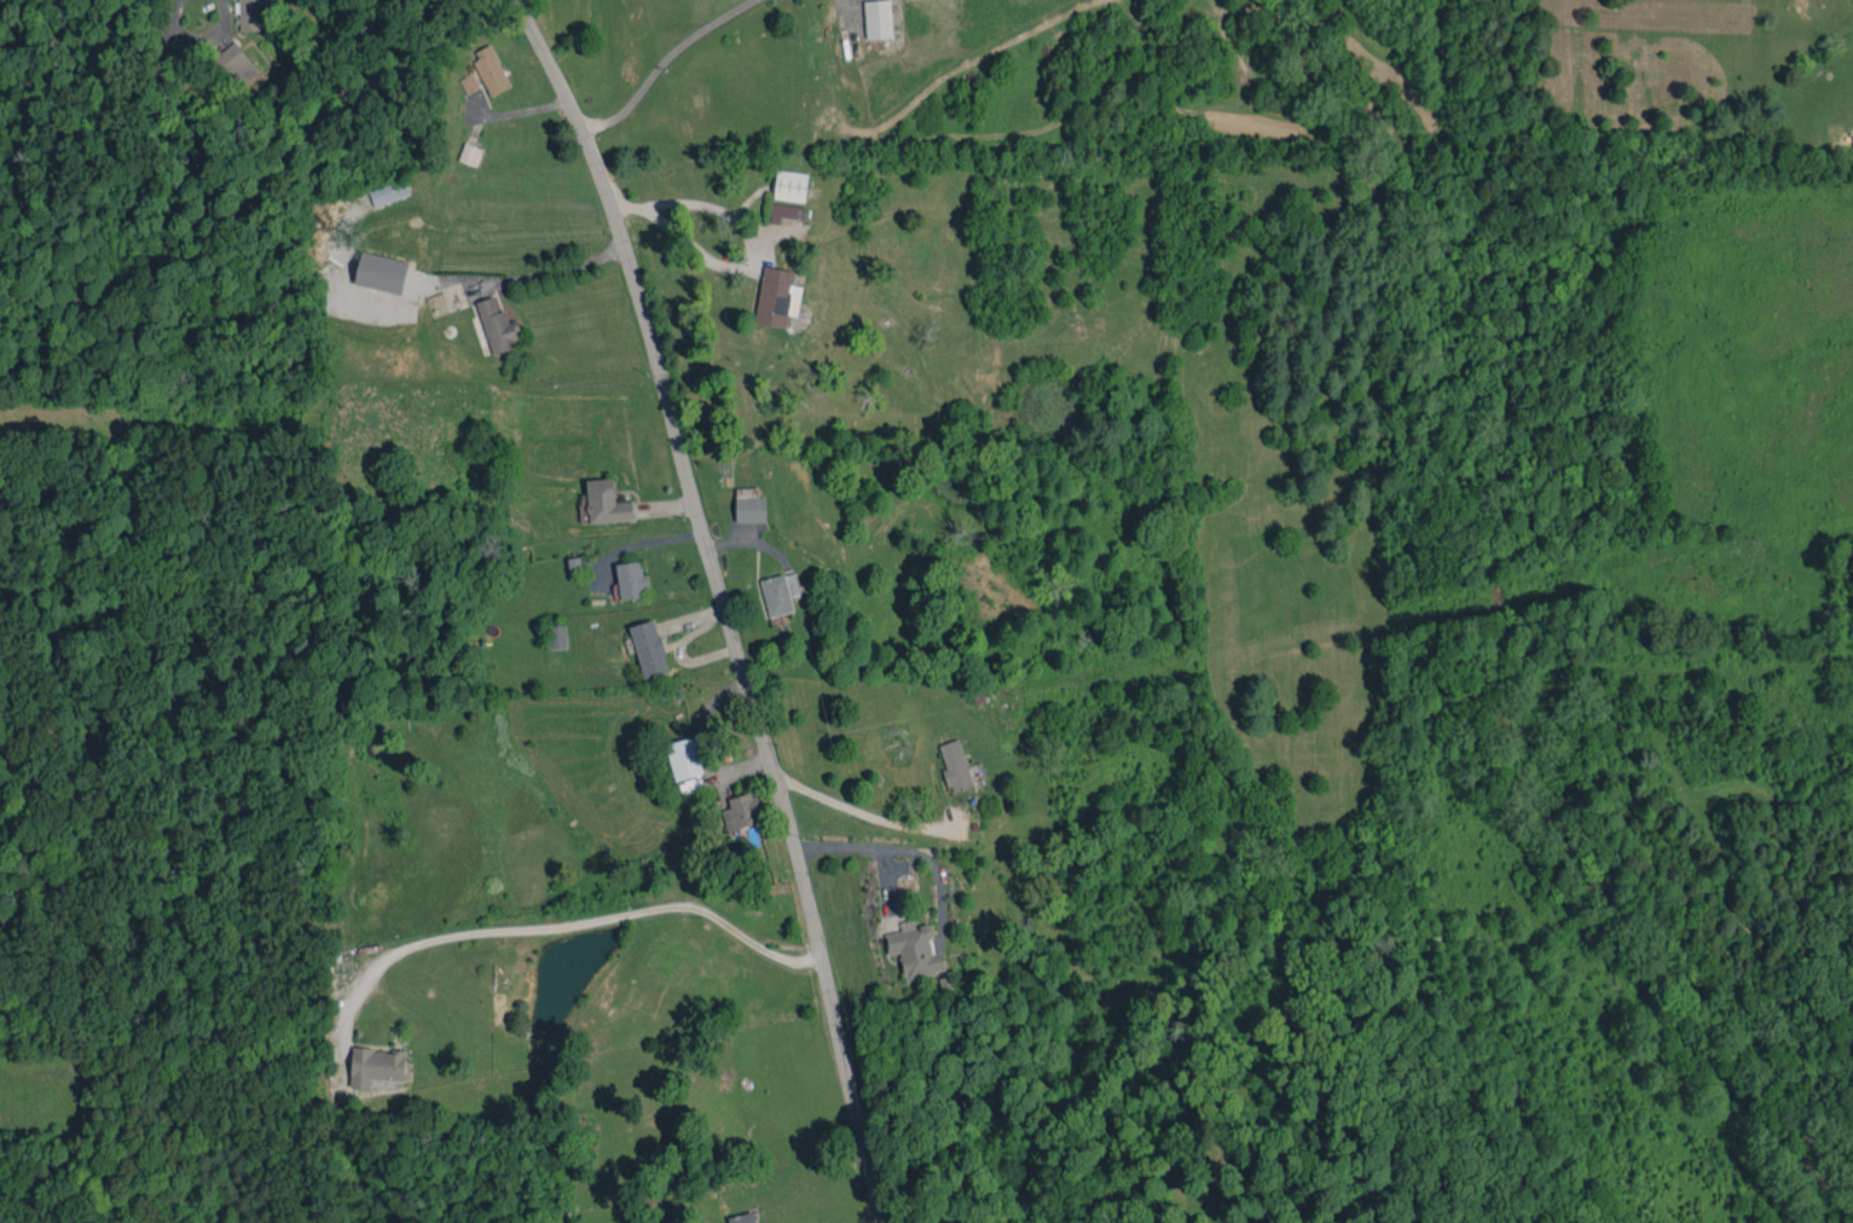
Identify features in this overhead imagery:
building: (250, 15)
building: (878, 18)
road: (197, 37)
road: (661, 59)
building: (236, 64)
building: (490, 69)
building: (469, 82)
building: (791, 185)
building: (388, 191)
building: (786, 211)
road: (737, 261)
building: (381, 272)
road: (546, 273)
building: (777, 296)
building: (497, 326)
building: (606, 502)
building: (749, 505)
building: (631, 579)
building: (780, 592)
road: (723, 602)
building: (649, 648)
building: (688, 755)
building: (955, 766)
building: (742, 811)
road: (861, 817)
road: (869, 848)
road: (558, 925)
building: (915, 950)
building: (376, 1066)
building: (742, 1218)

